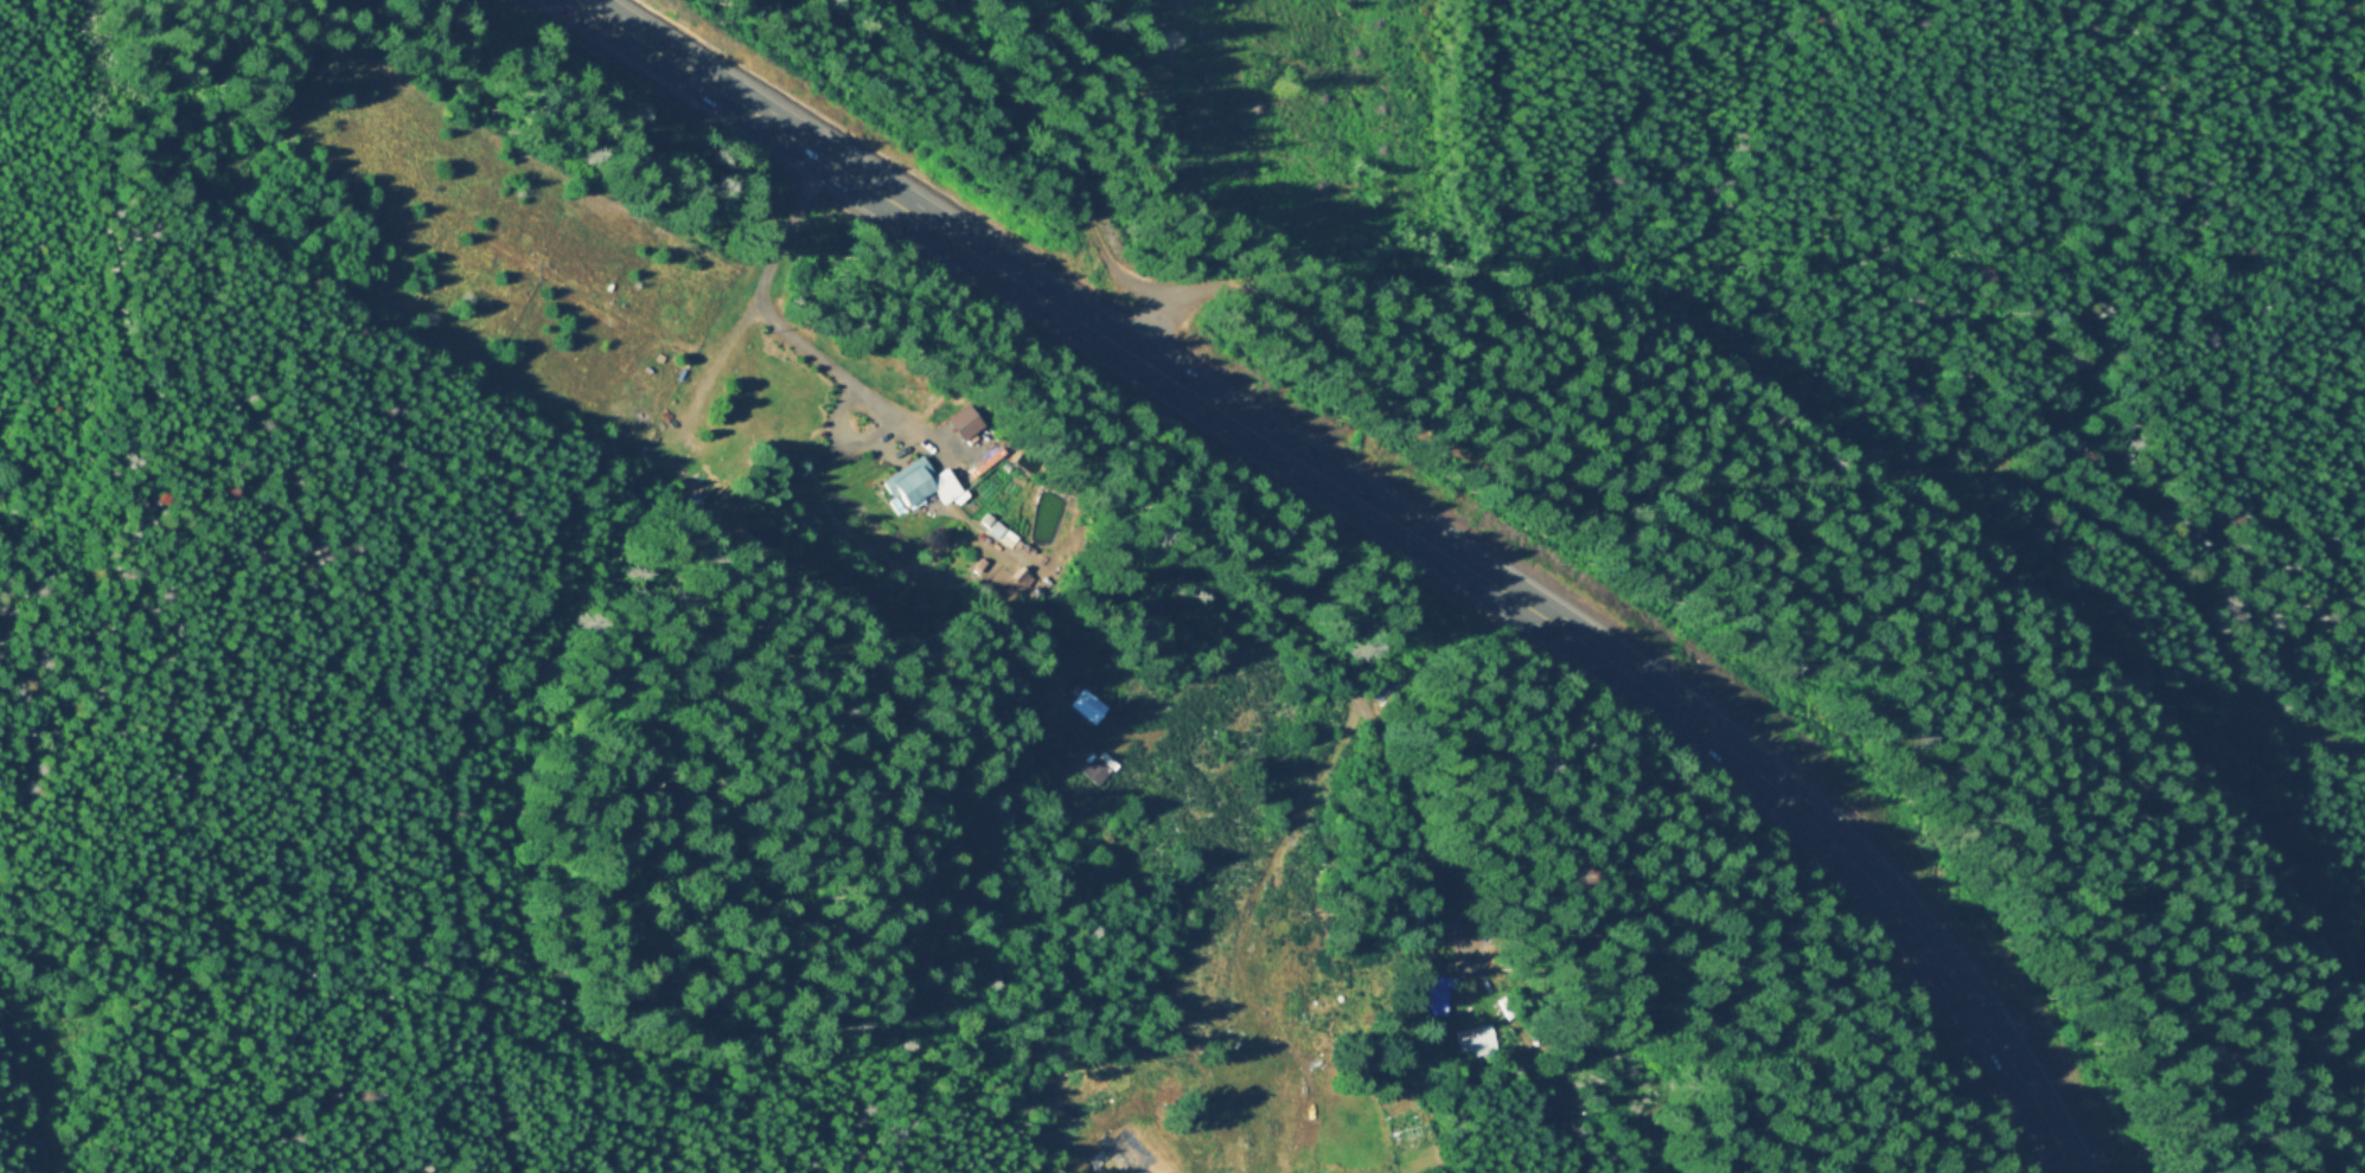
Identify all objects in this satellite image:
road: (363, 104)
road: (1057, 162)
road: (462, 223)
road: (776, 245)
road: (850, 377)
road: (843, 438)
road: (1786, 476)
building: (915, 482)
road: (1391, 518)
building: (1010, 550)
road: (1236, 650)
road: (1356, 698)
road: (455, 768)
building: (1092, 770)
road: (2262, 855)
road: (1466, 943)
road: (501, 947)
road: (251, 981)
road: (1182, 1025)
road: (1272, 1028)
building: (1474, 1037)
road: (1672, 1158)

